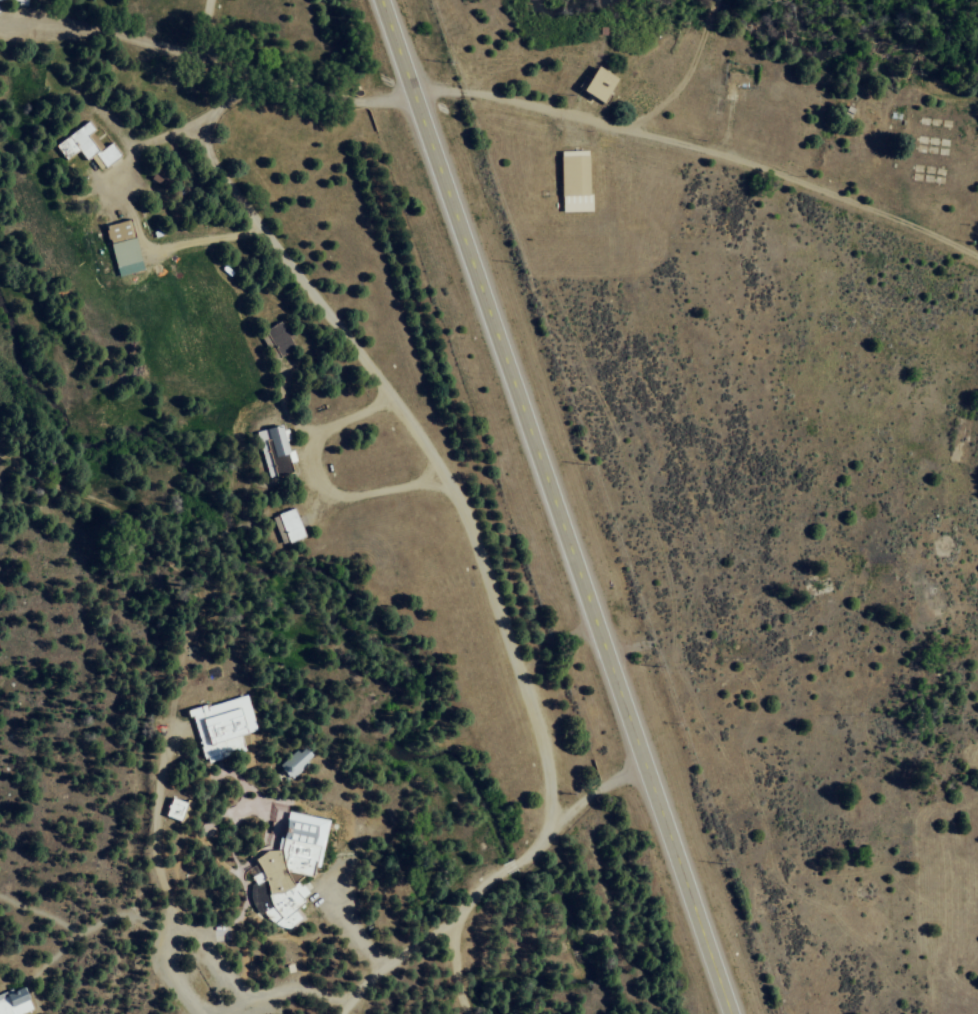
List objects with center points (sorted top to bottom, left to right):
building: (17, 1)
road: (205, 38)
road: (674, 69)
building: (594, 85)
road: (491, 106)
building: (84, 147)
building: (572, 181)
building: (121, 247)
road: (303, 281)
building: (274, 340)
building: (271, 451)
road: (556, 506)
building: (285, 526)
road: (162, 549)
road: (512, 650)
building: (220, 727)
building: (295, 760)
building: (175, 809)
road: (540, 841)
building: (296, 848)
road: (163, 874)
building: (271, 895)
road: (397, 970)
road: (451, 974)
building: (13, 1002)

